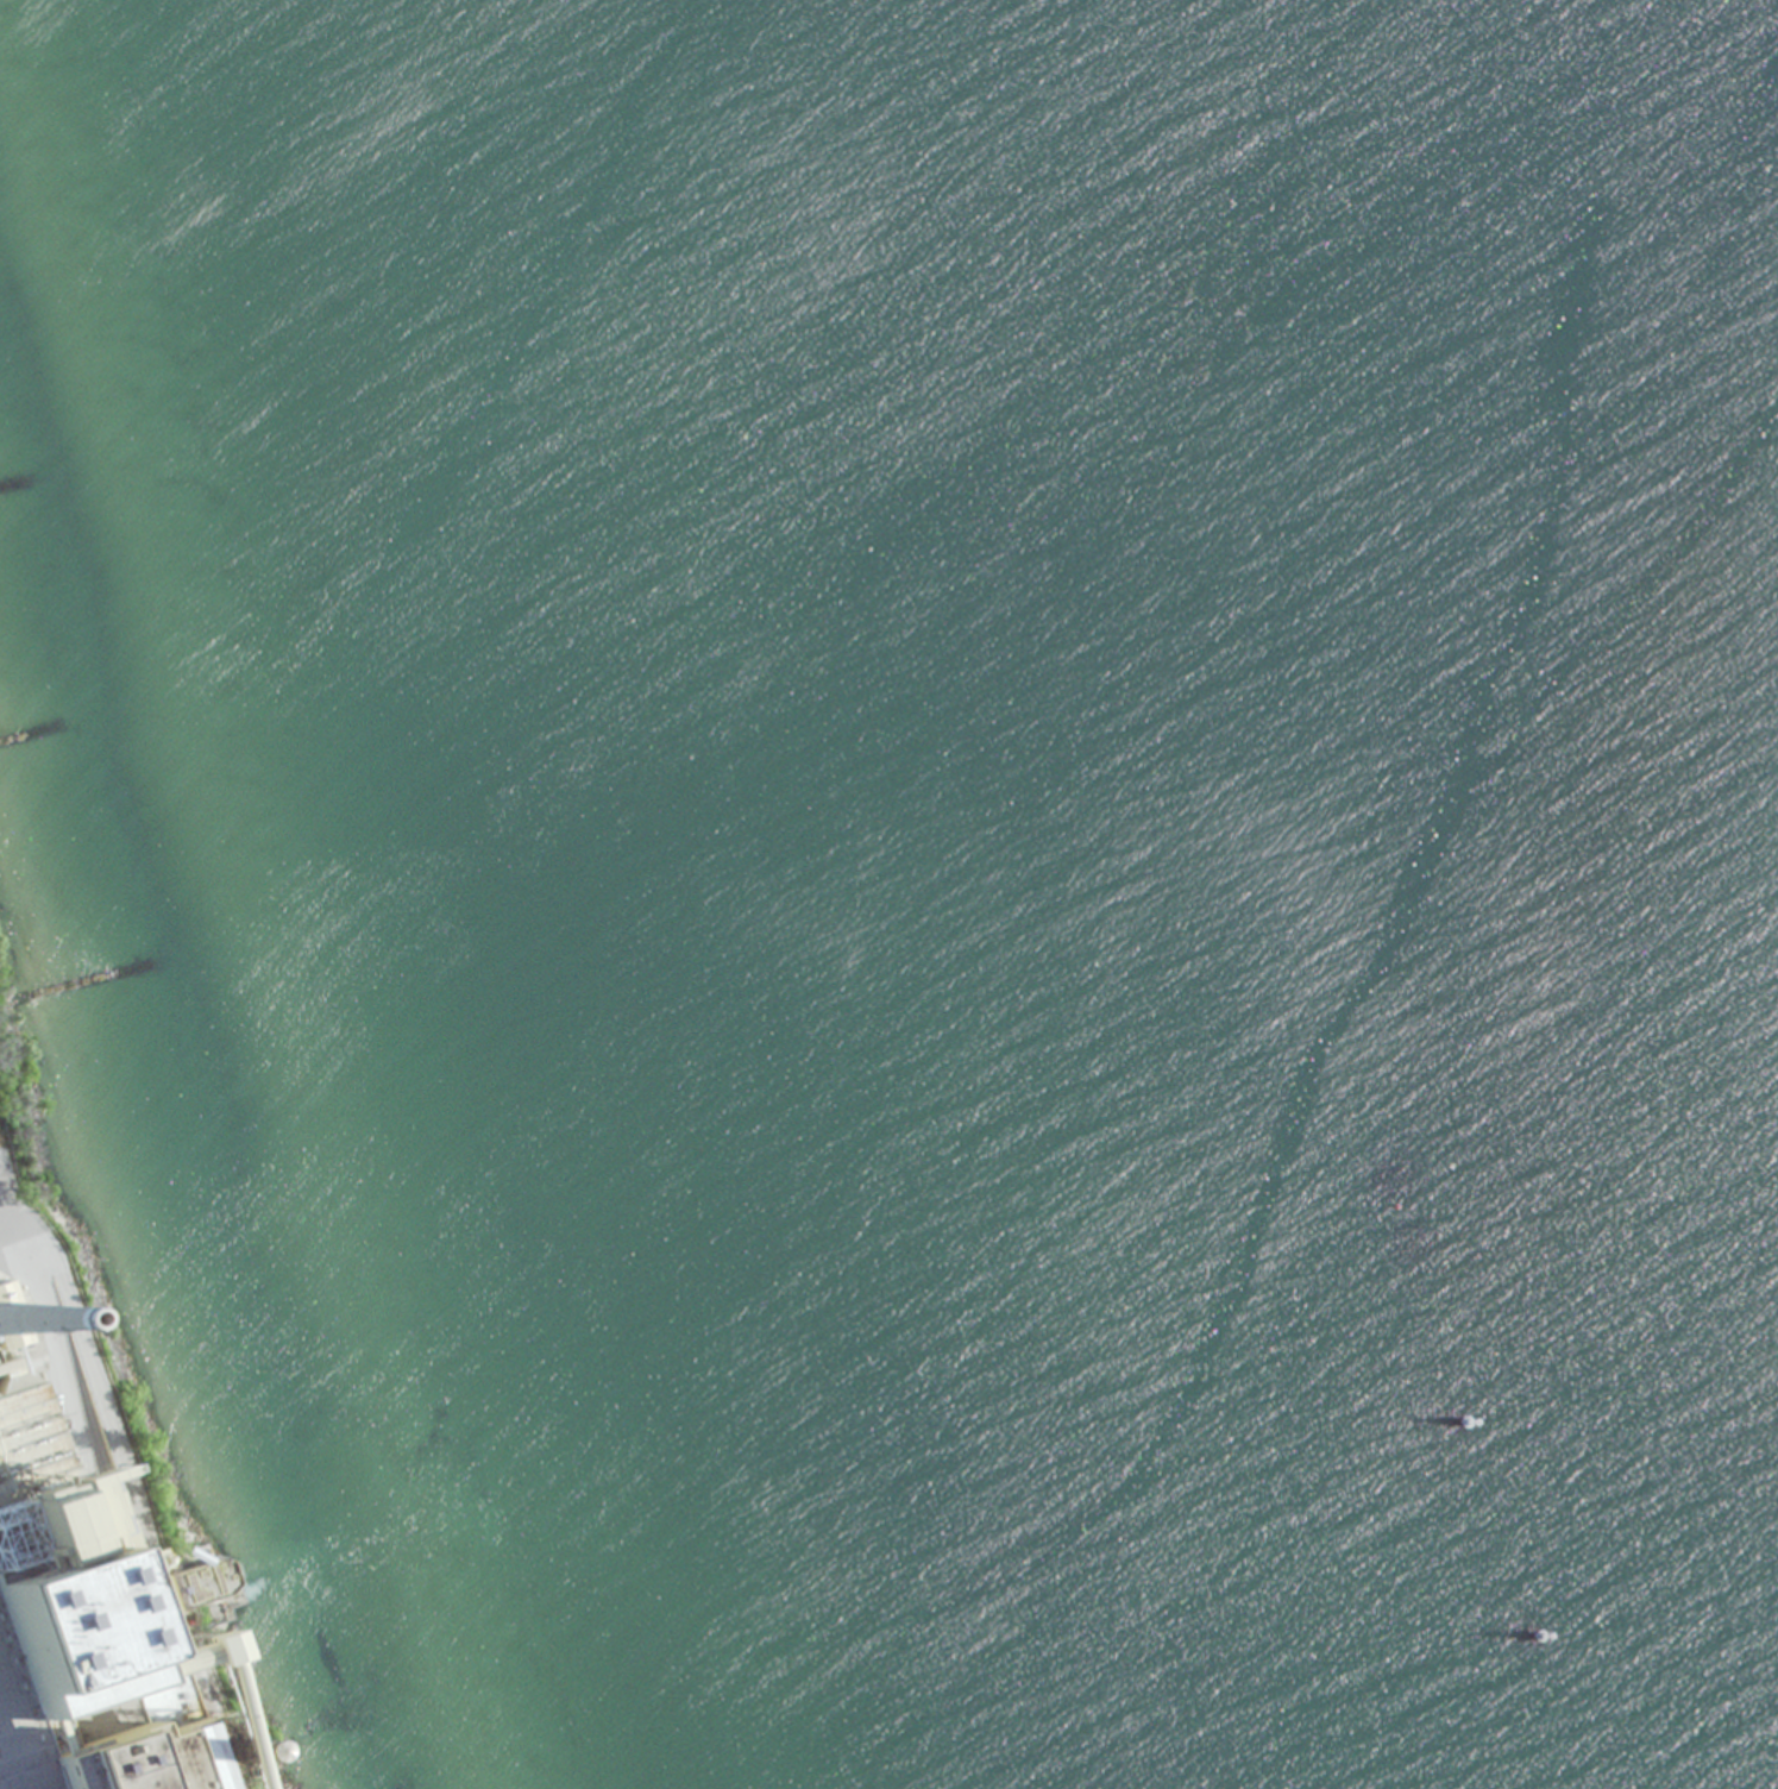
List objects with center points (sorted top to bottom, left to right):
wastewater plant: (15, 1061)
building: (11, 1318)
building: (15, 1410)
power plant: (128, 1498)
building: (93, 1664)

